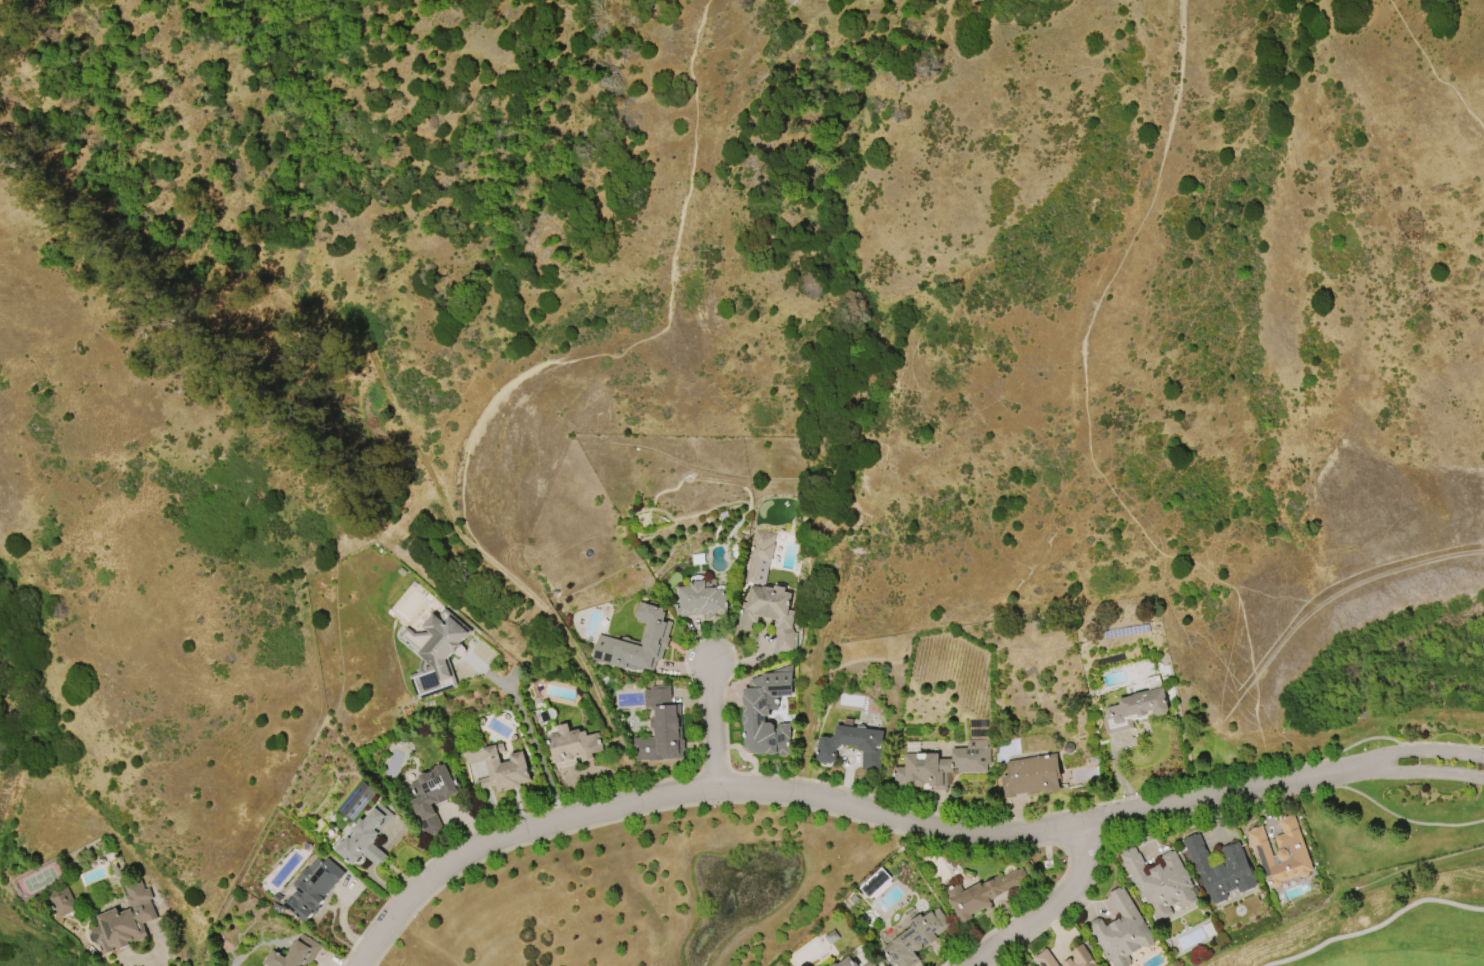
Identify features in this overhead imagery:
road: (712, 2)
park: (485, 196)
road: (515, 381)
road: (998, 399)
building: (758, 556)
building: (700, 599)
building: (769, 613)
building: (636, 643)
building: (434, 653)
building: (1133, 710)
building: (765, 712)
road: (715, 727)
building: (660, 728)
building: (571, 746)
building: (851, 746)
road: (536, 749)
building: (495, 766)
building: (941, 766)
building: (1030, 776)
road: (1284, 785)
road: (796, 794)
building: (430, 796)
building: (354, 801)
building: (364, 837)
building: (1280, 853)
building: (1219, 869)
building: (1158, 882)
building: (312, 887)
building: (980, 894)
building: (61, 902)
building: (123, 921)
road: (1378, 928)
building: (1119, 931)
park: (1378, 932)
building: (829, 937)
building: (914, 938)
building: (293, 954)
building: (1044, 958)
building: (1078, 958)
building: (845, 962)
road: (159, 963)
building: (868, 964)

